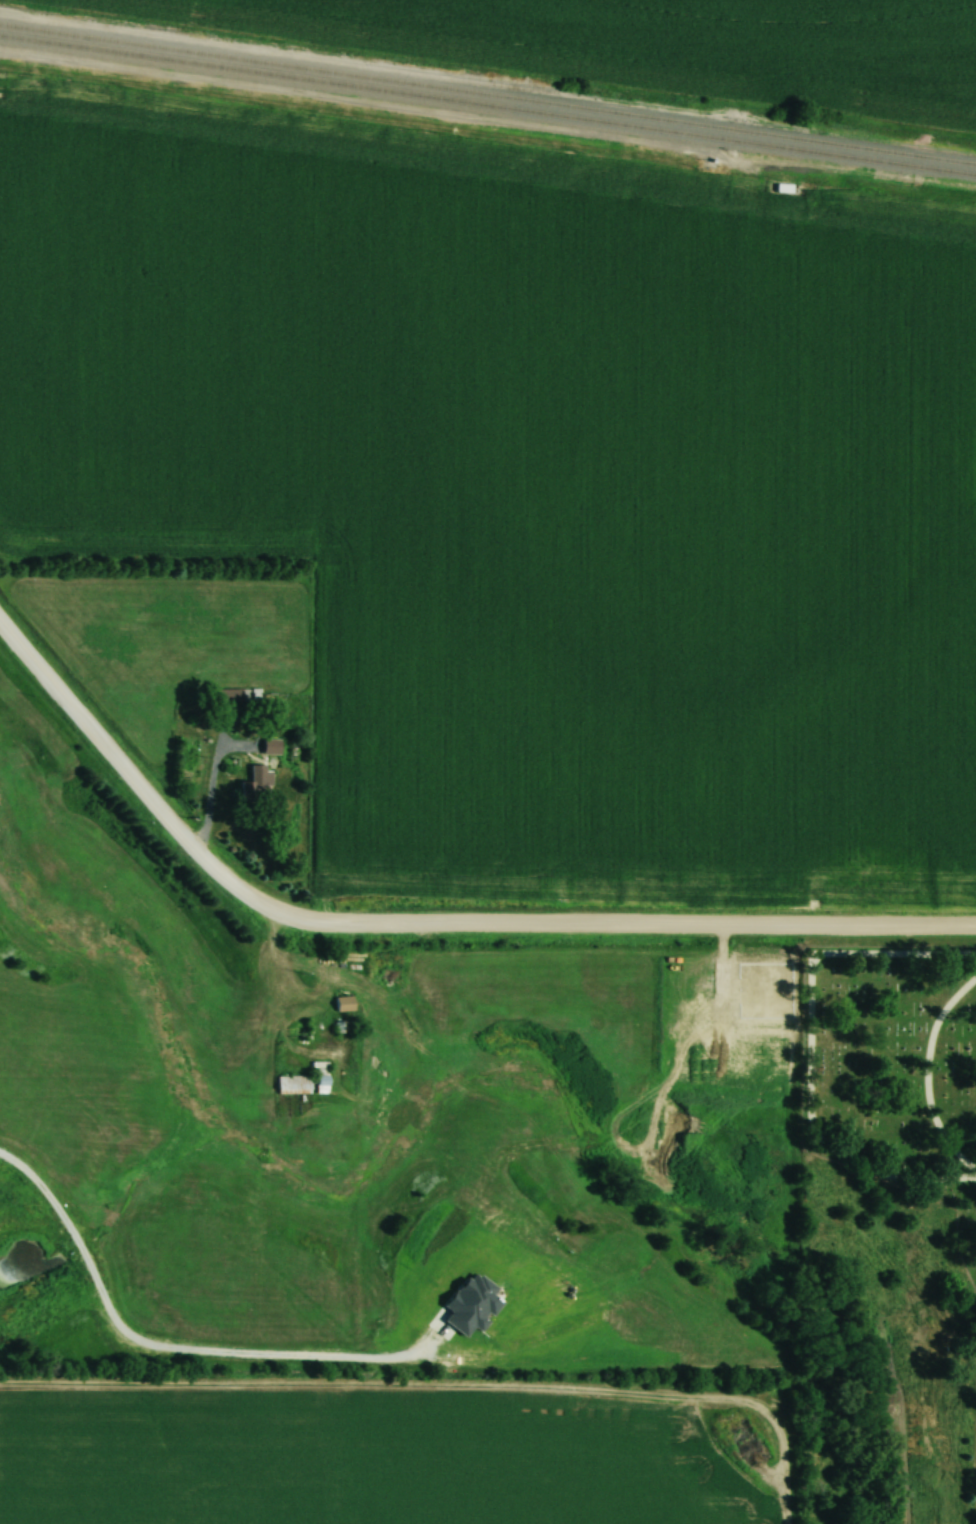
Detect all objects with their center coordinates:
railway: (487, 95)
railway: (487, 106)
crop: (525, 483)
building: (243, 698)
building: (269, 747)
building: (256, 782)
road: (424, 925)
road: (809, 1055)
road: (920, 1076)
building: (319, 1080)
building: (291, 1084)
park: (885, 1233)
crop: (377, 1459)

